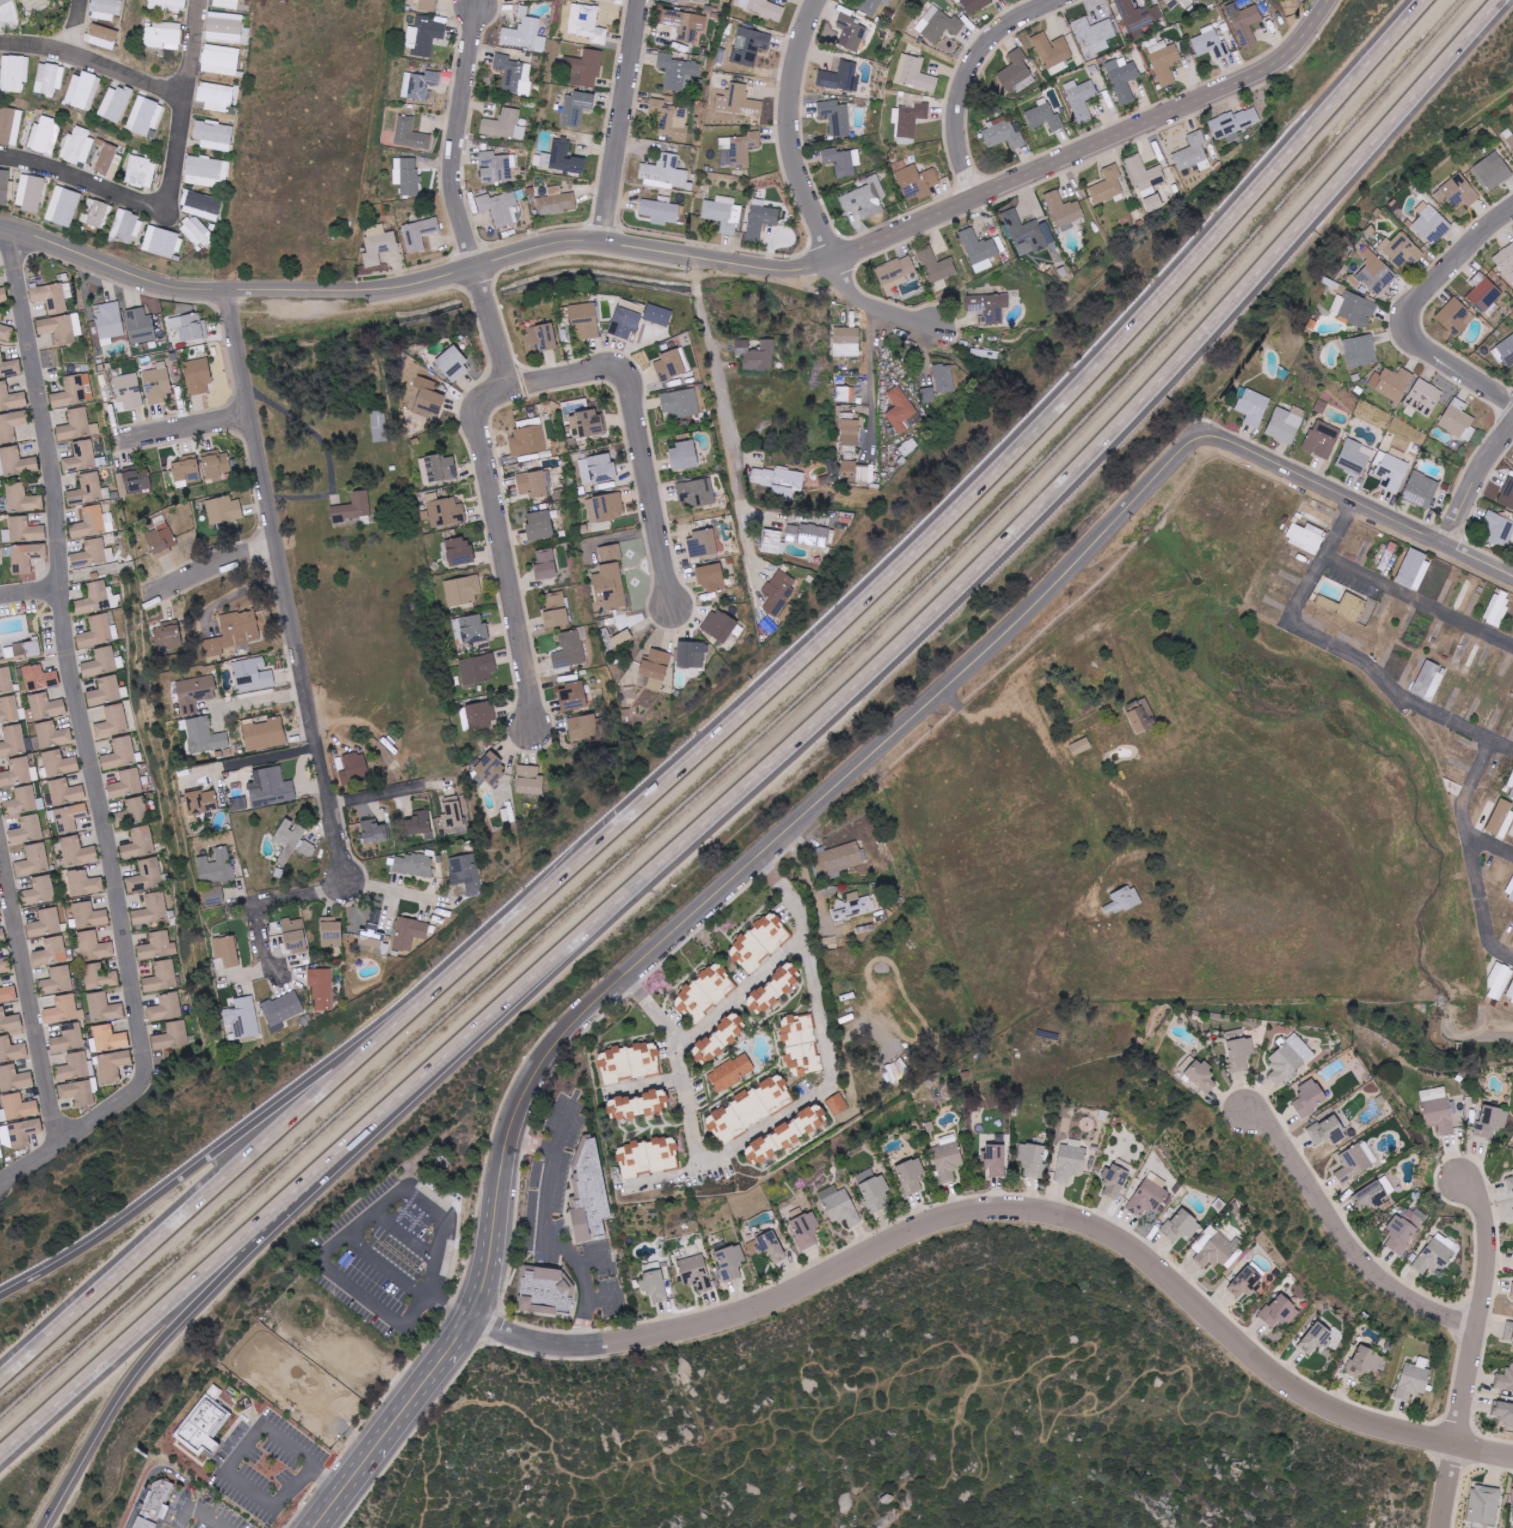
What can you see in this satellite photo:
building: (519, 0)
building: (686, 1)
building: (4, 2)
building: (740, 3)
building: (1173, 3)
building: (226, 4)
building: (167, 5)
building: (429, 5)
building: (977, 5)
building: (872, 6)
building: (106, 9)
building: (766, 9)
building: (1138, 18)
building: (587, 23)
building: (1245, 23)
building: (685, 24)
building: (939, 25)
building: (224, 27)
road: (88, 30)
building: (526, 33)
building: (1095, 33)
building: (853, 34)
building: (424, 35)
building: (164, 36)
building: (103, 37)
building: (1211, 43)
building: (749, 46)
building: (1053, 52)
building: (220, 60)
building: (1164, 62)
road: (96, 63)
building: (585, 68)
building: (678, 71)
building: (15, 73)
building: (1015, 73)
building: (514, 74)
building: (914, 74)
building: (841, 77)
building: (49, 79)
road: (974, 80)
building: (1122, 80)
building: (419, 85)
building: (83, 90)
building: (216, 97)
building: (1080, 98)
building: (738, 101)
building: (115, 104)
building: (576, 108)
building: (836, 117)
building: (909, 118)
building: (1044, 118)
building: (670, 120)
road: (625, 122)
building: (1234, 124)
building: (10, 125)
building: (504, 125)
building: (408, 134)
building: (1003, 134)
building: (213, 135)
building: (45, 136)
building: (78, 146)
building: (738, 150)
road: (1113, 150)
road: (1050, 153)
building: (1194, 153)
building: (562, 159)
building: (108, 160)
building: (843, 161)
building: (496, 167)
building: (1493, 171)
building: (141, 172)
building: (664, 173)
building: (406, 176)
building: (1145, 176)
building: (917, 182)
road: (789, 186)
building: (1108, 187)
building: (5, 188)
road: (179, 192)
building: (30, 193)
building: (1457, 193)
road: (811, 196)
building: (865, 198)
road: (458, 199)
building: (556, 201)
building: (1153, 203)
building: (202, 206)
building: (63, 207)
building: (500, 208)
building: (659, 211)
building: (1064, 211)
building: (723, 213)
building: (97, 215)
building: (760, 221)
road: (886, 222)
building: (1431, 224)
building: (127, 225)
building: (196, 231)
building: (1027, 233)
building: (418, 234)
building: (163, 242)
building: (378, 245)
building: (979, 250)
building: (1401, 250)
road: (695, 258)
building: (1505, 263)
building: (936, 265)
building: (896, 273)
building: (1376, 273)
building: (3, 295)
building: (1485, 295)
building: (52, 296)
building: (988, 306)
building: (633, 307)
building: (1354, 309)
road: (1416, 312)
building: (657, 315)
building: (0, 317)
building: (1455, 317)
building: (585, 320)
building: (109, 322)
building: (625, 323)
building: (140, 326)
building: (187, 327)
building: (61, 328)
building: (6, 333)
building: (546, 338)
building: (846, 342)
building: (1360, 351)
building: (1506, 351)
building: (756, 355)
building: (452, 364)
building: (670, 366)
building: (9, 367)
building: (197, 377)
building: (944, 378)
road: (873, 381)
building: (157, 384)
building: (1391, 384)
building: (128, 391)
building: (74, 392)
building: (844, 395)
building: (928, 395)
building: (11, 398)
building: (429, 403)
building: (681, 404)
building: (1252, 406)
building: (900, 410)
road: (725, 412)
building: (1458, 420)
building: (586, 424)
building: (77, 425)
building: (1285, 425)
building: (11, 426)
building: (379, 426)
road: (184, 428)
building: (850, 432)
road: (640, 435)
building: (528, 438)
building: (1322, 440)
road: (328, 453)
building: (683, 457)
building: (1355, 457)
building: (80, 458)
building: (16, 463)
building: (216, 464)
building: (598, 470)
building: (186, 471)
building: (1391, 472)
building: (133, 481)
building: (157, 481)
building: (778, 481)
road: (1474, 482)
building: (532, 484)
building: (88, 490)
building: (1421, 490)
building: (697, 494)
building: (1507, 495)
building: (22, 500)
road: (1359, 500)
building: (353, 508)
building: (606, 508)
building: (224, 510)
building: (445, 511)
road: (963, 511)
road: (773, 512)
building: (1318, 514)
building: (95, 522)
building: (539, 526)
building: (1499, 530)
building: (23, 531)
building: (807, 535)
building: (161, 537)
building: (1306, 537)
building: (772, 542)
building: (702, 543)
building: (459, 552)
building: (610, 553)
building: (92, 554)
road: (503, 555)
building: (26, 557)
road: (210, 565)
building: (545, 565)
building: (1414, 569)
building: (711, 578)
road: (285, 586)
building: (609, 587)
building: (462, 591)
building: (779, 592)
road: (32, 594)
road: (237, 595)
building: (96, 598)
road: (1419, 598)
road: (938, 605)
building: (1345, 607)
building: (1498, 608)
building: (555, 611)
building: (719, 626)
building: (472, 629)
building: (99, 630)
building: (233, 633)
building: (167, 636)
road: (1343, 647)
building: (27, 648)
building: (570, 649)
building: (692, 655)
building: (1468, 655)
building: (103, 662)
building: (478, 670)
building: (654, 670)
building: (252, 674)
building: (40, 678)
building: (6, 680)
building: (1429, 680)
building: (105, 691)
building: (195, 692)
building: (573, 697)
road: (259, 698)
road: (954, 700)
building: (30, 708)
road: (81, 709)
building: (478, 715)
building: (112, 721)
building: (1140, 721)
building: (583, 728)
building: (52, 734)
building: (264, 734)
building: (205, 736)
building: (13, 740)
building: (1081, 746)
building: (120, 753)
road: (252, 759)
building: (59, 763)
building: (354, 767)
building: (490, 770)
building: (18, 772)
road: (1098, 776)
building: (530, 779)
building: (1511, 782)
building: (127, 783)
building: (65, 791)
road: (375, 793)
road: (829, 794)
building: (1511, 794)
building: (22, 800)
building: (201, 801)
building: (136, 807)
road: (1467, 807)
building: (452, 811)
building: (70, 817)
building: (1500, 818)
building: (417, 822)
building: (27, 829)
building: (373, 831)
building: (292, 840)
building: (139, 842)
building: (77, 851)
building: (839, 853)
building: (33, 860)
building: (417, 864)
building: (466, 872)
building: (146, 875)
building: (215, 875)
road: (815, 881)
building: (84, 882)
building: (41, 889)
building: (1510, 891)
road: (398, 893)
road: (263, 898)
building: (1123, 900)
road: (1484, 905)
building: (852, 907)
building: (152, 909)
building: (88, 915)
building: (45, 922)
building: (331, 932)
building: (372, 933)
building: (409, 933)
building: (294, 935)
building: (2, 936)
building: (760, 941)
building: (157, 945)
building: (94, 946)
building: (227, 950)
building: (51, 951)
building: (5, 965)
building: (100, 976)
building: (161, 976)
building: (58, 979)
building: (1499, 982)
building: (321, 988)
road: (34, 990)
building: (772, 991)
building: (704, 992)
road: (740, 993)
building: (1510, 993)
building: (8, 994)
building: (103, 1007)
building: (166, 1007)
building: (63, 1010)
building: (282, 1010)
building: (242, 1020)
building: (9, 1021)
building: (171, 1036)
road: (827, 1036)
building: (720, 1037)
road: (1485, 1037)
building: (68, 1038)
building: (108, 1039)
building: (800, 1047)
building: (11, 1049)
building: (1241, 1053)
building: (1289, 1059)
building: (630, 1062)
building: (113, 1065)
building: (75, 1067)
building: (731, 1072)
building: (1199, 1074)
building: (14, 1078)
road: (648, 1083)
building: (78, 1093)
building: (1310, 1097)
road: (689, 1098)
building: (837, 1103)
building: (637, 1105)
building: (17, 1107)
building: (752, 1107)
building: (1437, 1109)
building: (1491, 1121)
road: (564, 1127)
building: (1328, 1131)
building: (19, 1133)
building: (786, 1135)
road: (225, 1144)
building: (1512, 1149)
building: (1, 1153)
building: (664, 1153)
building: (1033, 1158)
building: (635, 1159)
building: (995, 1159)
building: (948, 1160)
building: (1071, 1160)
building: (1355, 1161)
building: (911, 1175)
road: (34, 1176)
building: (1115, 1180)
road: (223, 1184)
building: (1510, 1184)
building: (873, 1190)
building: (588, 1193)
building: (1149, 1195)
building: (1370, 1197)
building: (839, 1206)
road: (368, 1217)
road: (1077, 1219)
building: (1181, 1226)
building: (804, 1228)
building: (1404, 1230)
road: (542, 1233)
road: (406, 1235)
road: (1344, 1236)
building: (768, 1247)
building: (1216, 1247)
parking lot: (387, 1253)
building: (1436, 1255)
road: (590, 1257)
building: (730, 1260)
road: (383, 1267)
building: (693, 1268)
building: (1248, 1283)
building: (654, 1286)
building: (544, 1290)
building: (1512, 1290)
road: (602, 1295)
road: (161, 1309)
building: (1280, 1311)
road: (461, 1327)
building: (1509, 1332)
road: (167, 1333)
road: (531, 1339)
building: (1316, 1339)
road: (1472, 1350)
building: (1364, 1362)
building: (1414, 1379)
building: (1505, 1380)
building: (1504, 1412)
road: (332, 1420)
building: (203, 1421)
road: (244, 1454)
parking lot: (267, 1466)
road: (156, 1472)
road: (345, 1490)
building: (153, 1504)
building: (1484, 1505)
road: (198, 1510)
parking lot: (197, 1513)
building: (1512, 1515)

